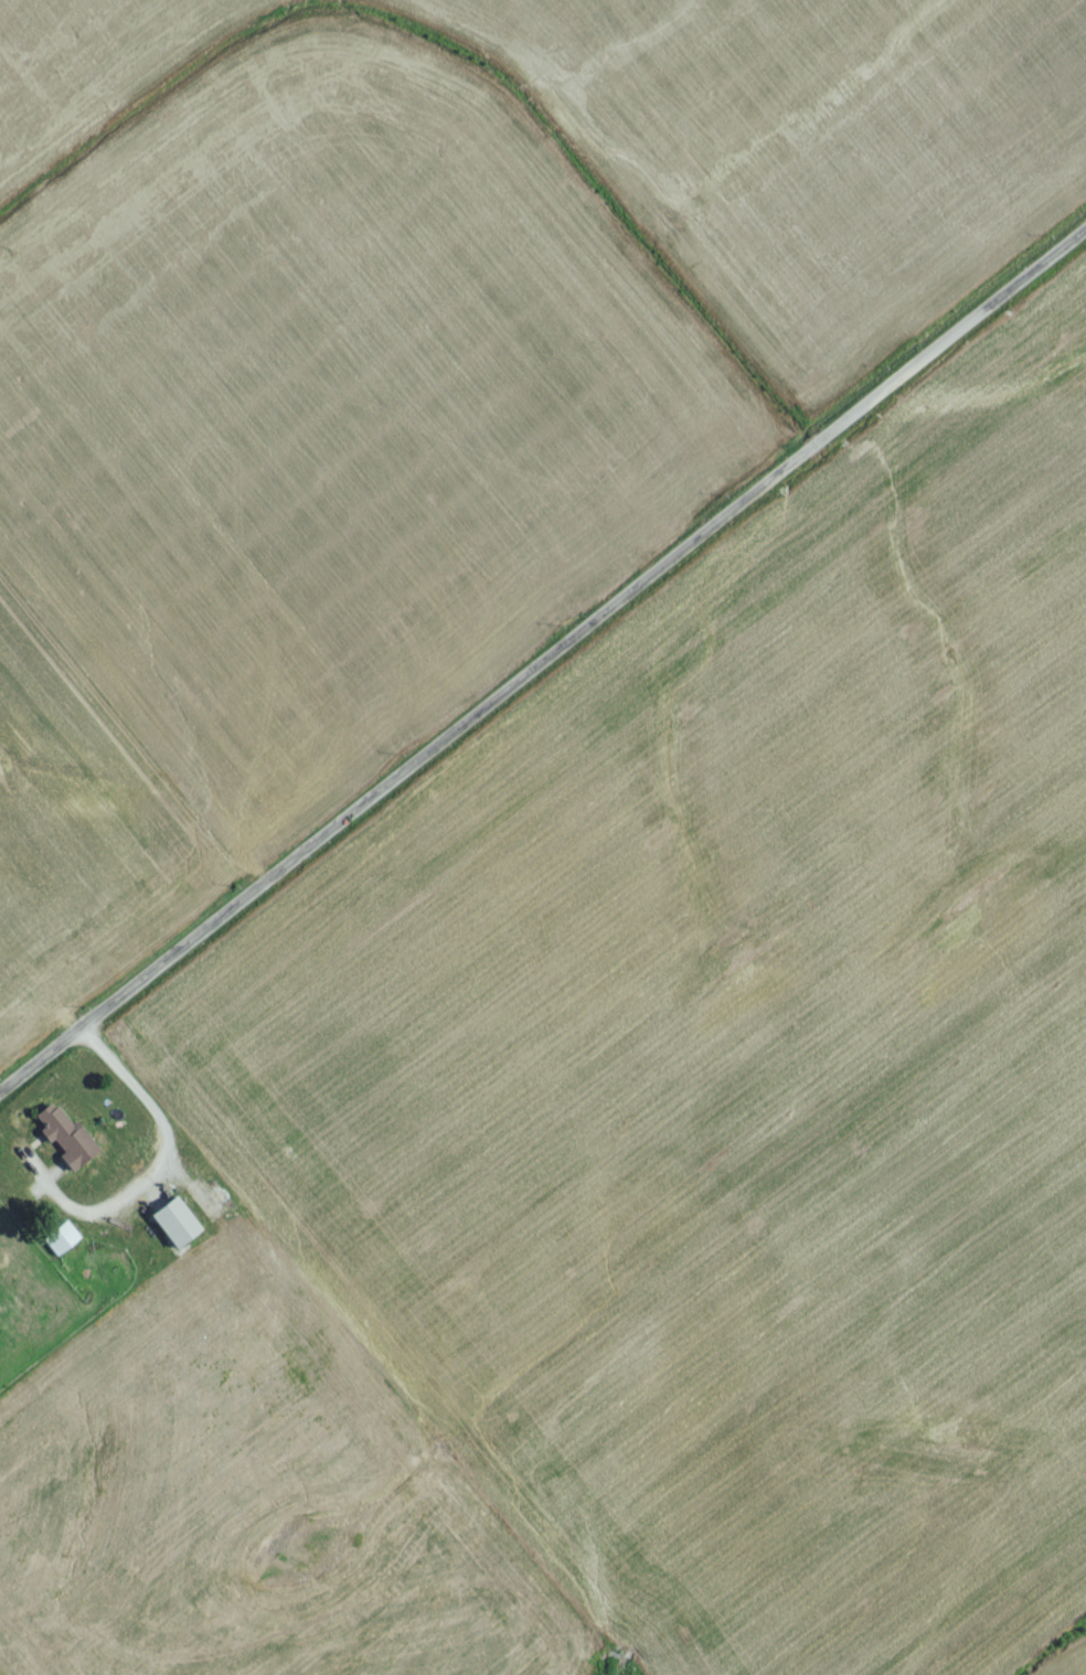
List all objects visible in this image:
road: (542, 665)
building: (62, 1141)
road: (161, 1166)
building: (168, 1227)
building: (57, 1244)

